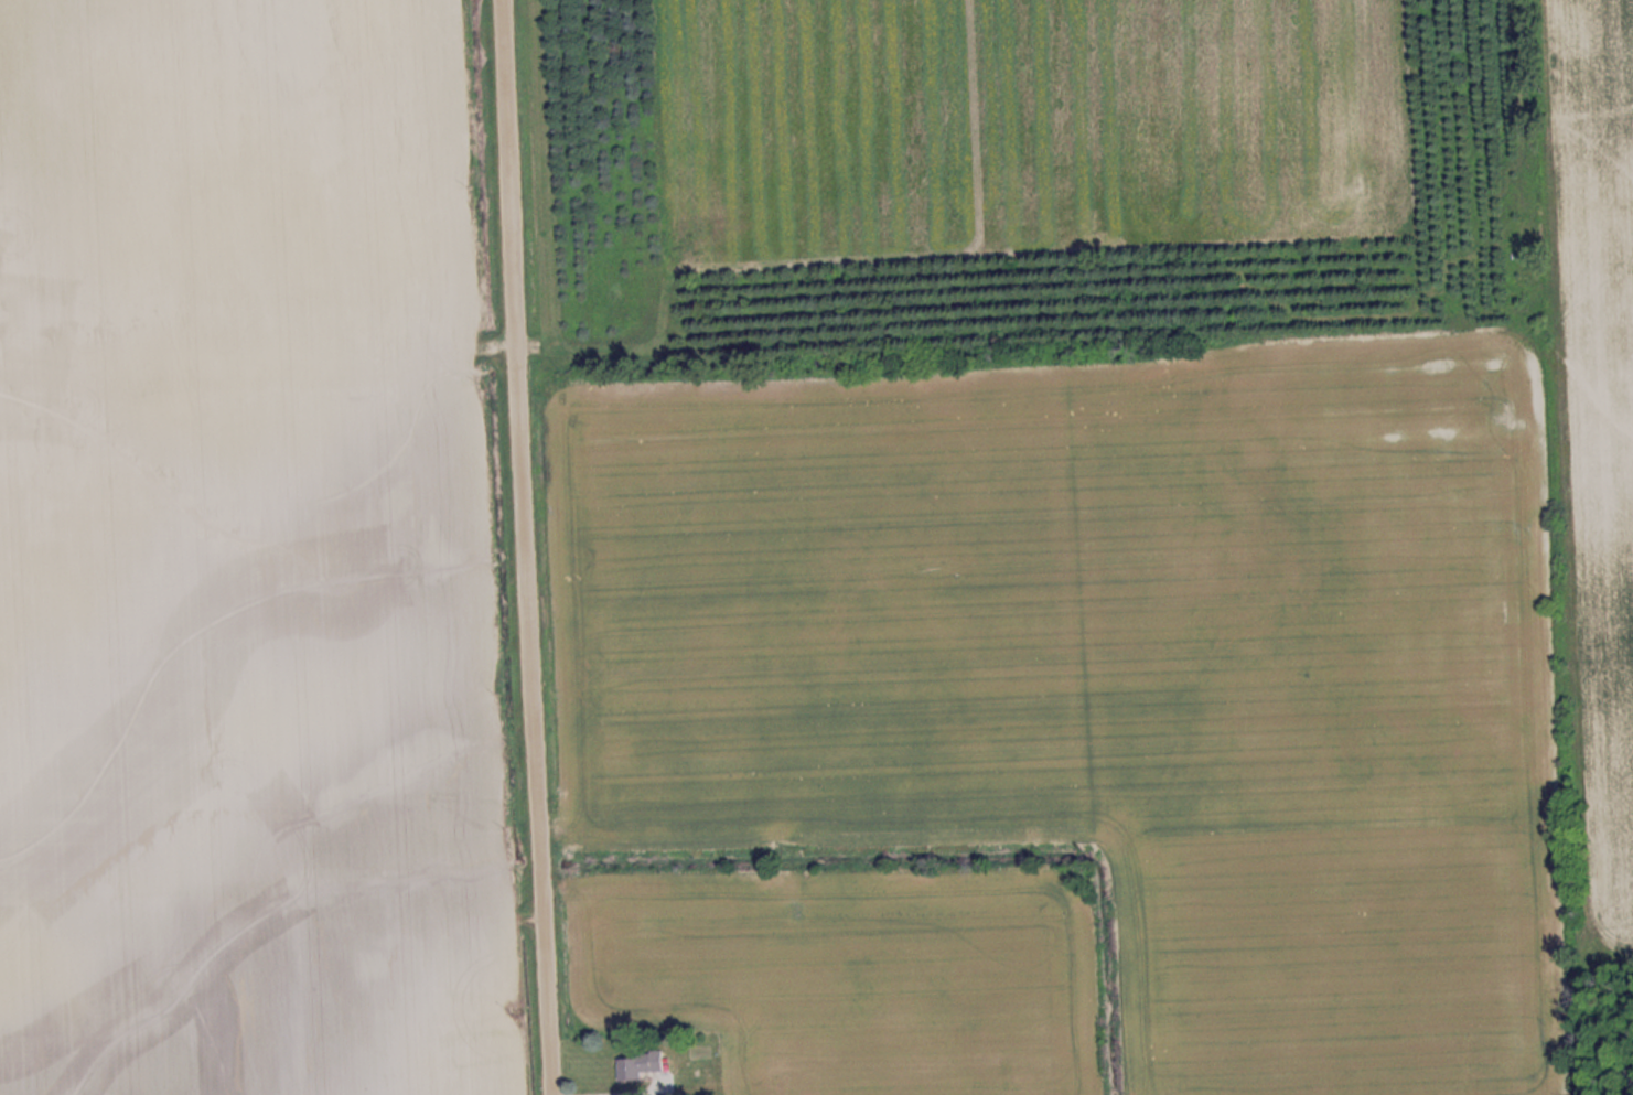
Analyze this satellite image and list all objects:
road: (519, 547)
building: (646, 1063)

